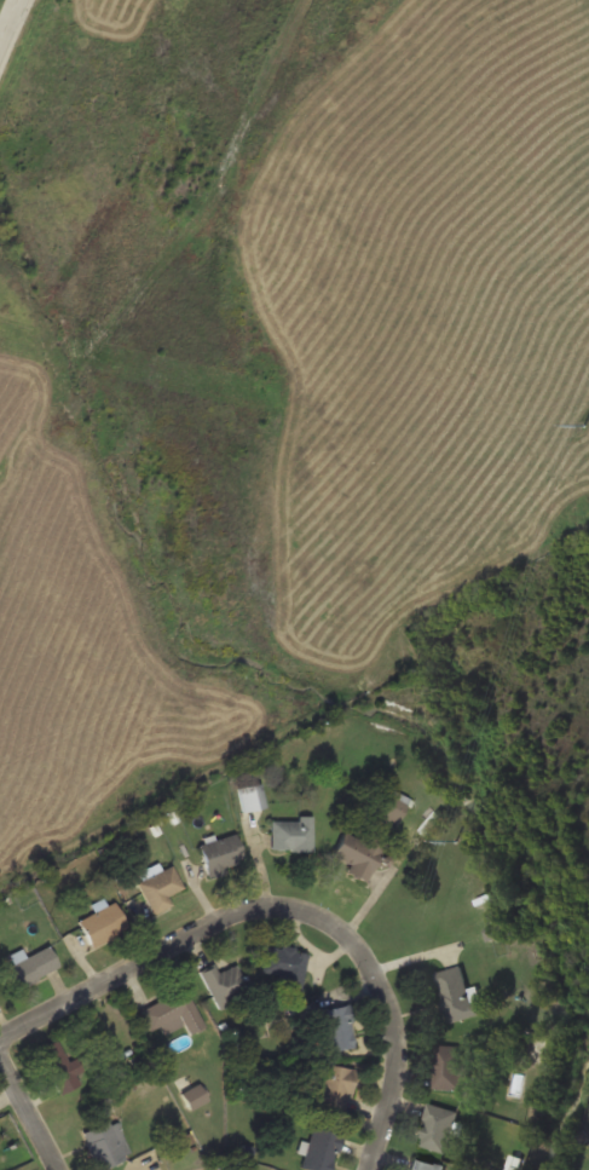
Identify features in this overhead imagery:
road: (11, 24)
building: (252, 796)
building: (391, 807)
building: (291, 834)
building: (220, 853)
building: (357, 853)
building: (158, 888)
road: (287, 907)
building: (103, 923)
building: (287, 964)
building: (33, 966)
building: (224, 984)
building: (456, 995)
building: (172, 1011)
building: (335, 1027)
building: (58, 1066)
building: (447, 1066)
building: (334, 1088)
building: (194, 1096)
road: (30, 1106)
building: (437, 1128)
building: (106, 1143)
building: (321, 1149)
building: (422, 1165)

